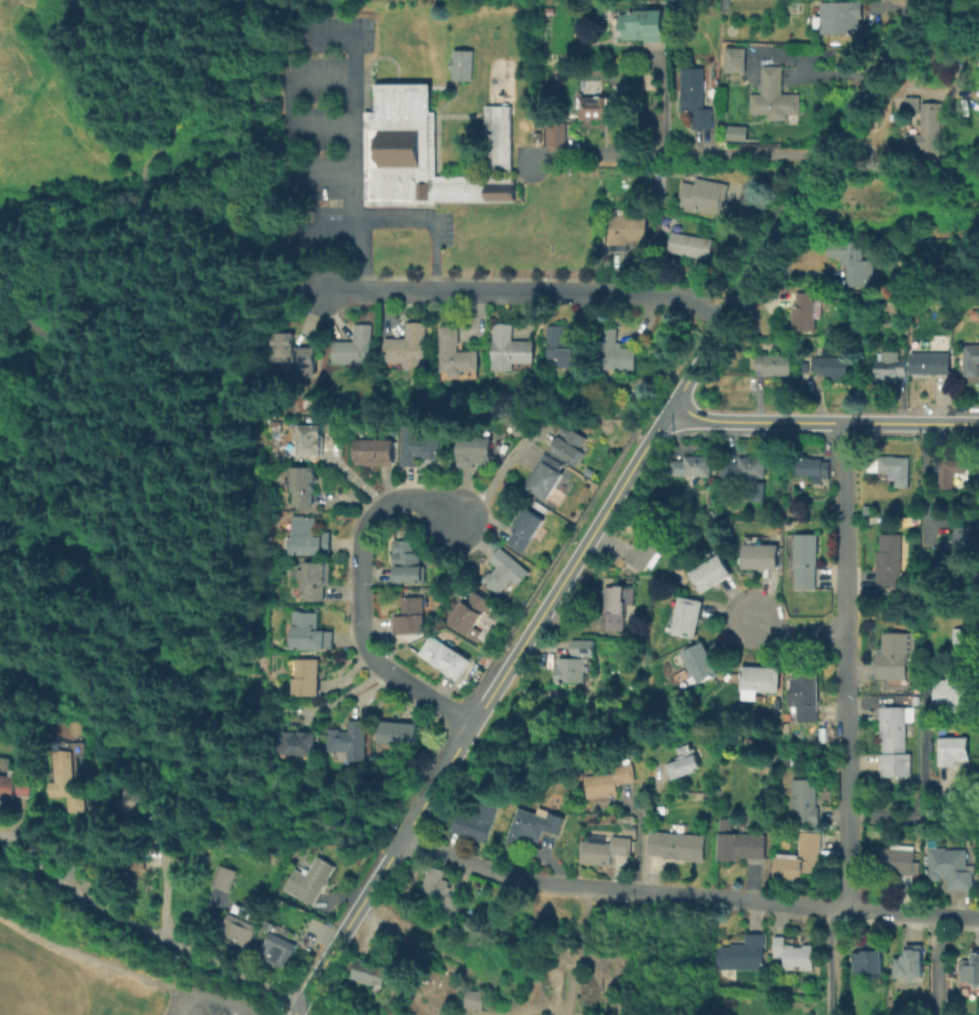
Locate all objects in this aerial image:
road: (346, 3)
road: (233, 13)
building: (841, 17)
building: (644, 24)
building: (739, 59)
road: (806, 61)
building: (460, 64)
road: (804, 75)
building: (778, 96)
building: (698, 97)
road: (666, 98)
road: (285, 102)
road: (51, 107)
building: (603, 107)
building: (932, 114)
building: (739, 132)
building: (556, 133)
road: (349, 145)
building: (425, 152)
road: (675, 153)
road: (322, 181)
building: (706, 195)
road: (798, 200)
building: (897, 201)
road: (429, 223)
road: (335, 229)
building: (626, 229)
building: (689, 244)
road: (229, 251)
building: (854, 261)
road: (139, 279)
road: (455, 291)
road: (661, 293)
building: (804, 312)
building: (354, 346)
building: (408, 346)
building: (564, 346)
building: (511, 348)
building: (454, 351)
building: (614, 353)
building: (293, 357)
building: (971, 360)
building: (930, 362)
building: (826, 363)
building: (774, 364)
building: (890, 366)
road: (8, 382)
road: (823, 419)
building: (308, 439)
building: (568, 443)
building: (418, 445)
building: (474, 450)
building: (374, 451)
building: (690, 464)
building: (812, 466)
building: (893, 468)
building: (948, 470)
road: (498, 474)
building: (748, 474)
building: (545, 480)
building: (303, 485)
building: (524, 528)
building: (308, 536)
building: (966, 542)
building: (648, 546)
building: (759, 556)
building: (888, 559)
building: (804, 560)
building: (409, 566)
building: (504, 570)
building: (707, 571)
building: (315, 578)
road: (177, 592)
road: (361, 594)
building: (617, 605)
building: (471, 612)
building: (410, 616)
building: (686, 617)
building: (309, 631)
road: (796, 632)
building: (960, 639)
building: (582, 647)
building: (442, 656)
building: (895, 657)
road: (844, 662)
building: (699, 664)
building: (570, 669)
building: (306, 677)
building: (760, 678)
building: (806, 696)
building: (946, 696)
road: (480, 706)
building: (397, 732)
building: (348, 739)
building: (298, 742)
building: (896, 745)
building: (953, 752)
building: (683, 761)
road: (922, 767)
building: (65, 777)
building: (607, 780)
building: (14, 787)
building: (136, 801)
building: (804, 801)
building: (476, 819)
building: (532, 825)
road: (642, 835)
building: (738, 842)
building: (677, 845)
building: (602, 849)
building: (799, 858)
building: (897, 859)
building: (949, 867)
building: (223, 876)
building: (307, 880)
building: (434, 881)
road: (686, 894)
building: (453, 904)
road: (144, 928)
building: (237, 930)
building: (277, 949)
road: (574, 951)
building: (742, 953)
road: (85, 954)
building: (793, 955)
road: (824, 959)
building: (869, 959)
building: (909, 962)
road: (935, 964)
building: (970, 969)
building: (367, 971)
road: (204, 998)
building: (472, 999)
road: (194, 1005)
parking lot: (195, 1007)
road: (248, 1008)
road: (236, 1012)

